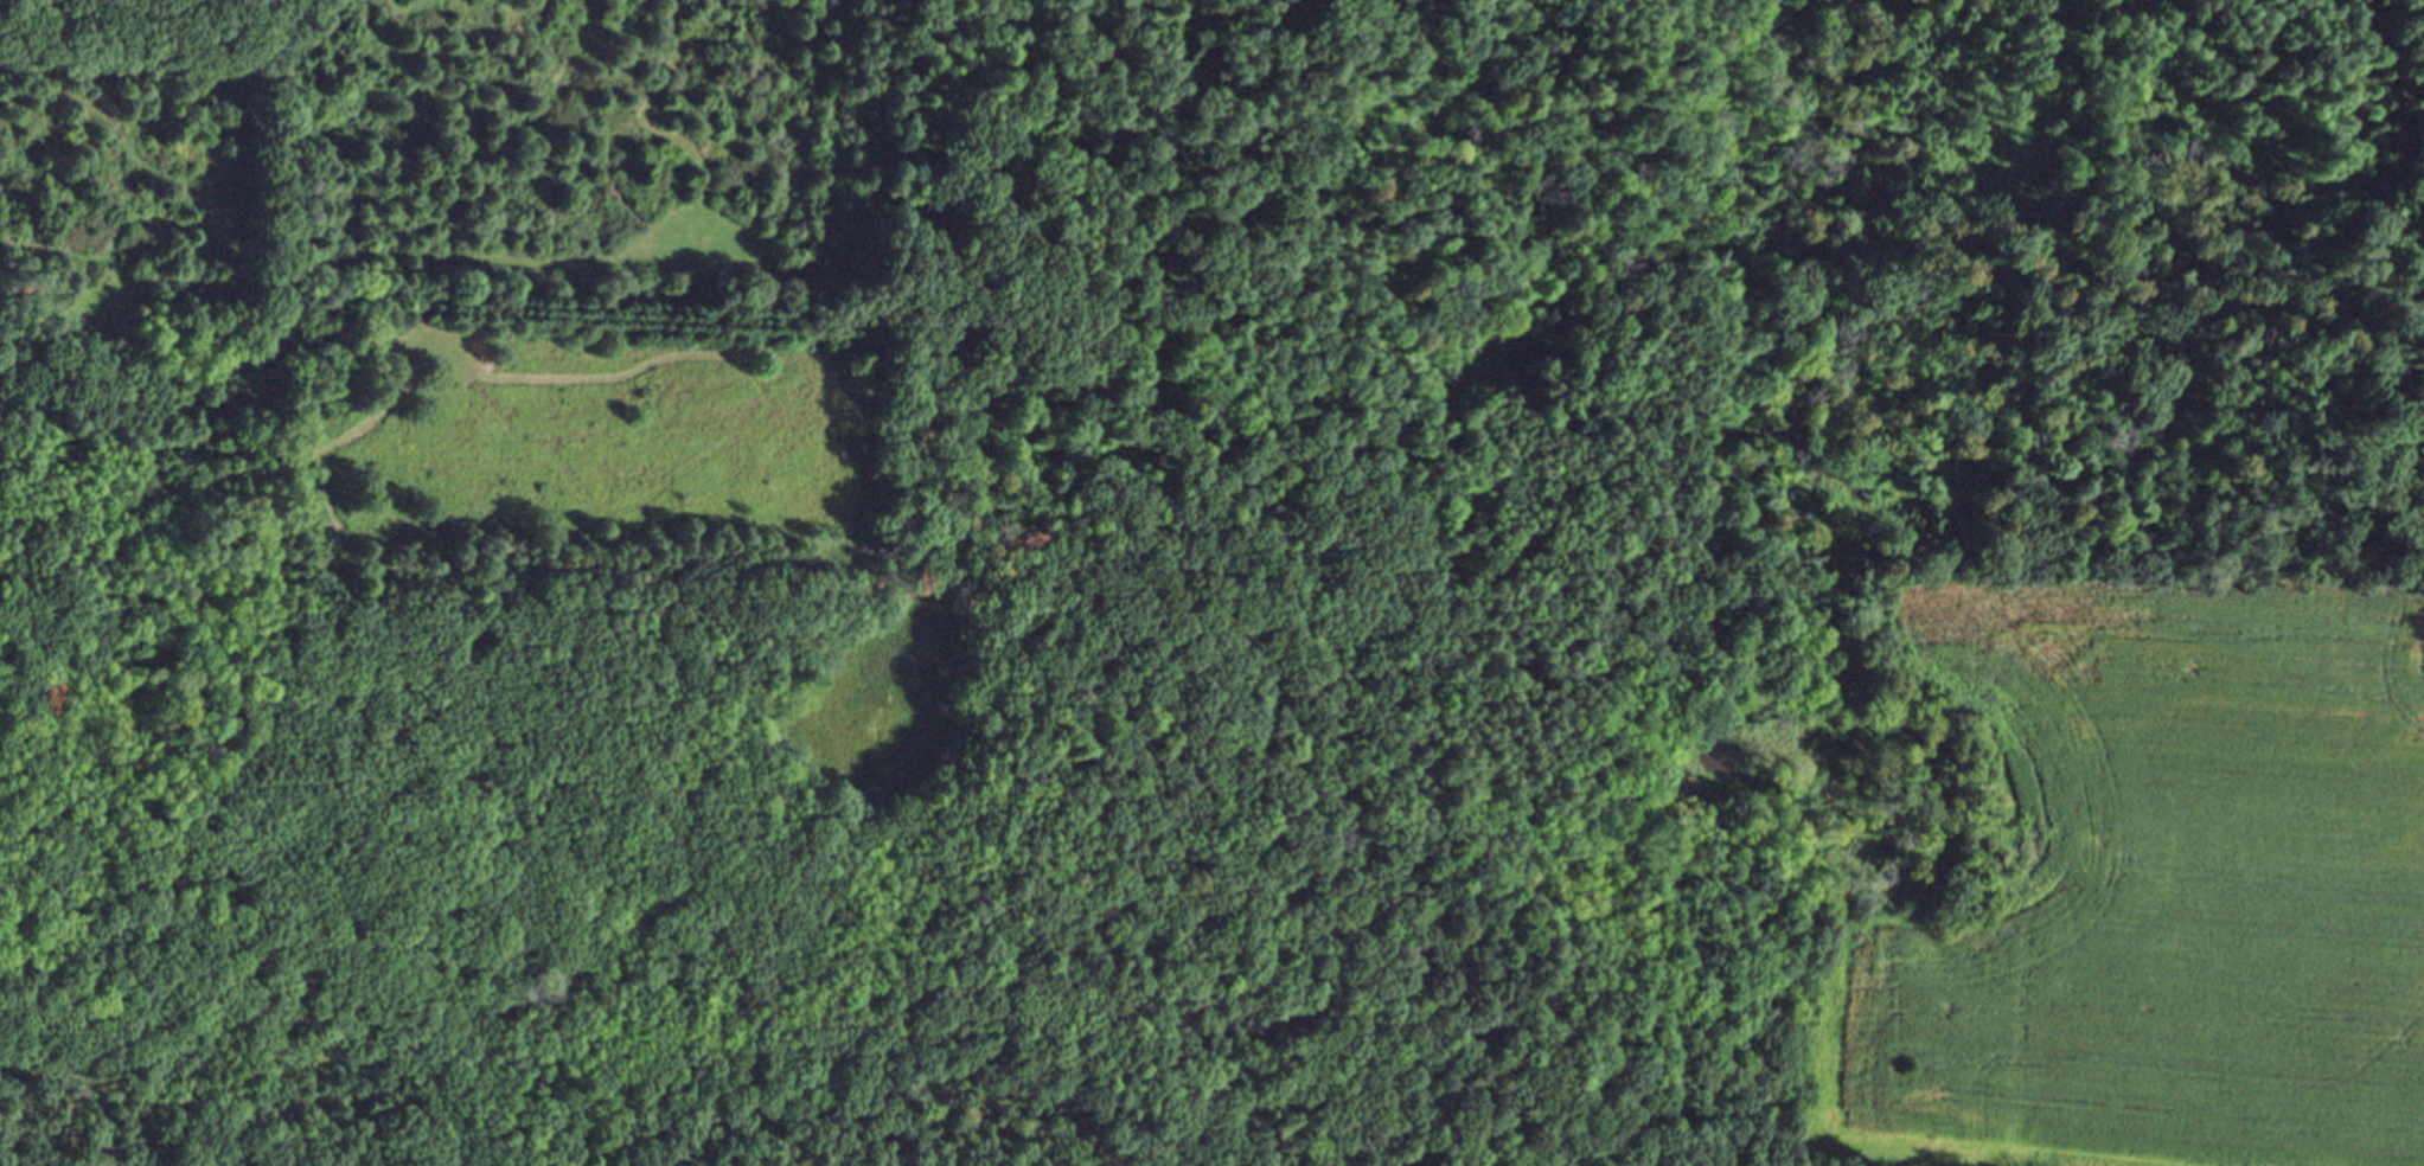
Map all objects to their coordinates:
road: (301, 187)
road: (271, 406)

